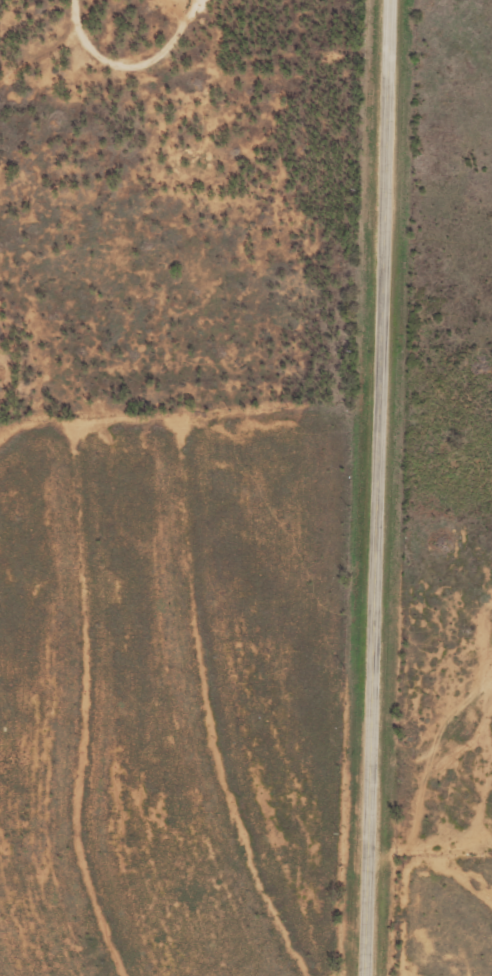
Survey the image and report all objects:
road: (37, 31)
road: (224, 38)
road: (378, 487)

